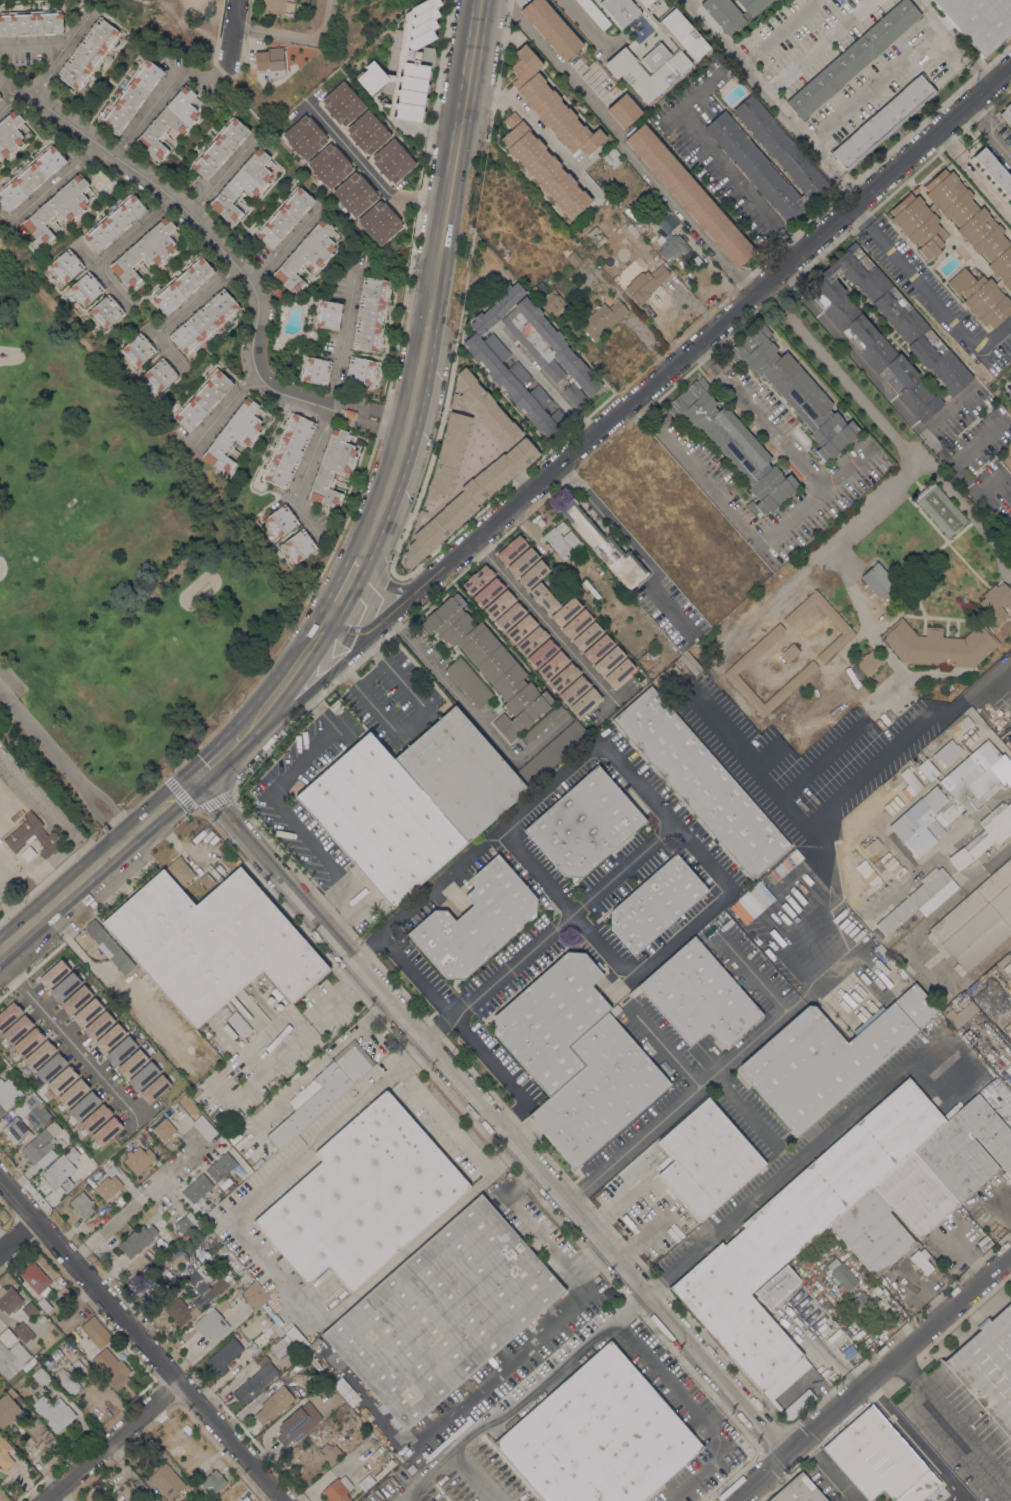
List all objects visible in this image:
road: (689, 1)
building: (273, 6)
building: (627, 9)
building: (731, 12)
building: (594, 13)
building: (979, 21)
building: (30, 22)
building: (551, 27)
road: (779, 32)
building: (683, 33)
road: (296, 35)
road: (231, 37)
road: (955, 42)
road: (51, 46)
road: (821, 46)
building: (88, 53)
building: (655, 55)
building: (852, 58)
building: (270, 62)
building: (405, 66)
road: (45, 72)
building: (664, 75)
road: (874, 82)
road: (762, 86)
building: (131, 96)
building: (0, 97)
road: (159, 97)
building: (0, 98)
road: (11, 99)
building: (342, 103)
building: (550, 104)
building: (624, 110)
road: (972, 110)
building: (1006, 112)
building: (169, 122)
building: (882, 122)
building: (10, 132)
building: (368, 132)
road: (994, 135)
building: (304, 136)
road: (620, 142)
building: (219, 147)
building: (746, 156)
building: (393, 160)
road: (722, 164)
building: (330, 165)
building: (543, 166)
building: (994, 170)
road: (371, 174)
road: (973, 176)
building: (30, 177)
road: (57, 179)
road: (218, 179)
building: (242, 185)
road: (850, 185)
building: (354, 193)
building: (688, 194)
building: (58, 208)
building: (657, 213)
building: (284, 216)
road: (858, 216)
building: (114, 221)
building: (379, 222)
building: (972, 222)
building: (919, 224)
building: (597, 238)
road: (282, 246)
building: (671, 246)
road: (116, 247)
building: (144, 251)
building: (652, 253)
road: (227, 255)
building: (306, 255)
building: (574, 258)
road: (89, 260)
building: (65, 265)
road: (790, 279)
road: (435, 282)
building: (646, 283)
building: (182, 284)
building: (85, 288)
building: (981, 297)
building: (551, 302)
road: (934, 302)
building: (497, 308)
road: (184, 310)
building: (105, 311)
building: (327, 313)
building: (371, 313)
building: (602, 318)
building: (204, 321)
building: (863, 336)
building: (547, 345)
building: (137, 349)
road: (670, 366)
building: (361, 369)
building: (315, 370)
building: (159, 374)
building: (511, 379)
road: (543, 381)
road: (334, 386)
building: (795, 390)
building: (320, 392)
building: (574, 394)
building: (540, 396)
building: (453, 397)
building: (202, 399)
road: (223, 406)
building: (485, 407)
building: (349, 413)
road: (904, 413)
building: (233, 434)
building: (733, 444)
building: (288, 449)
building: (448, 455)
building: (332, 466)
road: (846, 467)
road: (906, 475)
building: (468, 499)
road: (808, 502)
building: (940, 508)
building: (419, 516)
building: (280, 520)
building: (562, 540)
building: (298, 545)
building: (605, 546)
road: (631, 546)
building: (521, 561)
park: (111, 572)
building: (933, 573)
road: (373, 574)
building: (476, 579)
building: (880, 583)
road: (340, 591)
building: (487, 592)
building: (632, 593)
building: (542, 597)
building: (996, 601)
road: (536, 615)
building: (514, 622)
building: (575, 623)
building: (845, 629)
building: (939, 645)
building: (791, 651)
building: (648, 655)
building: (607, 660)
building: (490, 664)
building: (867, 664)
building: (551, 665)
building: (807, 670)
building: (649, 674)
road: (289, 679)
road: (1006, 679)
building: (468, 682)
road: (311, 690)
building: (578, 695)
building: (335, 706)
road: (994, 713)
road: (473, 715)
building: (967, 721)
road: (416, 723)
building: (542, 723)
road: (244, 732)
road: (41, 739)
building: (551, 752)
building: (947, 752)
road: (218, 758)
building: (927, 768)
building: (459, 774)
road: (5, 777)
traffic signals: (197, 778)
building: (911, 779)
building: (701, 782)
road: (845, 791)
building: (909, 795)
building: (952, 797)
road: (276, 799)
road: (165, 804)
road: (110, 806)
road: (517, 814)
road: (97, 817)
building: (380, 819)
building: (585, 824)
building: (20, 834)
building: (985, 835)
building: (873, 846)
building: (891, 865)
building: (781, 867)
road: (32, 868)
building: (180, 870)
road: (536, 871)
building: (217, 875)
building: (206, 880)
road: (66, 891)
road: (958, 894)
building: (920, 898)
building: (655, 903)
building: (477, 907)
road: (13, 915)
building: (976, 921)
building: (485, 931)
road: (550, 931)
road: (683, 933)
building: (212, 943)
building: (109, 945)
building: (897, 947)
building: (880, 949)
building: (1010, 950)
building: (886, 961)
building: (66, 962)
building: (1007, 967)
building: (52, 973)
road: (417, 975)
building: (90, 985)
building: (63, 986)
building: (73, 992)
building: (699, 995)
building: (86, 1012)
building: (8, 1013)
building: (961, 1014)
building: (551, 1018)
building: (239, 1023)
building: (97, 1024)
building: (15, 1028)
building: (7, 1037)
building: (108, 1037)
road: (66, 1038)
building: (26, 1041)
building: (119, 1050)
building: (38, 1054)
building: (827, 1056)
building: (130, 1063)
building: (49, 1066)
road: (495, 1068)
building: (3, 1074)
building: (141, 1075)
road: (720, 1077)
building: (60, 1080)
building: (153, 1088)
building: (322, 1091)
building: (598, 1091)
building: (71, 1092)
building: (8, 1094)
building: (82, 1105)
building: (35, 1110)
road: (494, 1112)
road: (746, 1112)
building: (94, 1118)
building: (163, 1127)
building: (15, 1129)
building: (987, 1129)
building: (105, 1130)
road: (455, 1135)
building: (68, 1137)
building: (141, 1137)
building: (38, 1147)
building: (268, 1150)
building: (139, 1159)
building: (705, 1159)
building: (955, 1159)
road: (792, 1160)
building: (221, 1167)
road: (280, 1169)
building: (61, 1170)
building: (109, 1185)
building: (198, 1187)
building: (914, 1194)
building: (362, 1195)
road: (138, 1200)
building: (82, 1204)
building: (185, 1222)
building: (798, 1229)
building: (872, 1232)
road: (539, 1235)
road: (19, 1237)
building: (137, 1240)
building: (176, 1255)
building: (920, 1260)
building: (238, 1268)
building: (842, 1273)
building: (247, 1276)
building: (36, 1278)
building: (59, 1281)
building: (777, 1286)
building: (214, 1288)
building: (177, 1290)
building: (253, 1295)
building: (9, 1299)
building: (44, 1304)
building: (862, 1305)
building: (28, 1308)
building: (181, 1311)
building: (443, 1312)
building: (210, 1323)
building: (276, 1328)
building: (95, 1331)
building: (6, 1332)
building: (22, 1332)
road: (598, 1333)
road: (140, 1338)
building: (280, 1346)
building: (251, 1348)
building: (224, 1355)
road: (509, 1358)
building: (13, 1359)
building: (263, 1361)
building: (111, 1367)
building: (988, 1367)
building: (40, 1375)
road: (870, 1376)
building: (315, 1377)
building: (67, 1380)
building: (250, 1387)
building: (346, 1391)
building: (536, 1399)
building: (273, 1404)
building: (8, 1408)
building: (52, 1411)
road: (954, 1420)
building: (298, 1423)
building: (186, 1428)
building: (599, 1436)
building: (54, 1443)
road: (117, 1444)
building: (330, 1452)
building: (4, 1454)
building: (163, 1454)
building: (879, 1459)
building: (410, 1468)
building: (384, 1469)
road: (827, 1469)
road: (423, 1478)
building: (167, 1480)
building: (213, 1480)
building: (365, 1482)
building: (337, 1490)
building: (798, 1491)
building: (932, 1495)
building: (243, 1499)
building: (144, 1500)
building: (152, 1500)
building: (196, 1500)
building: (199, 1500)

